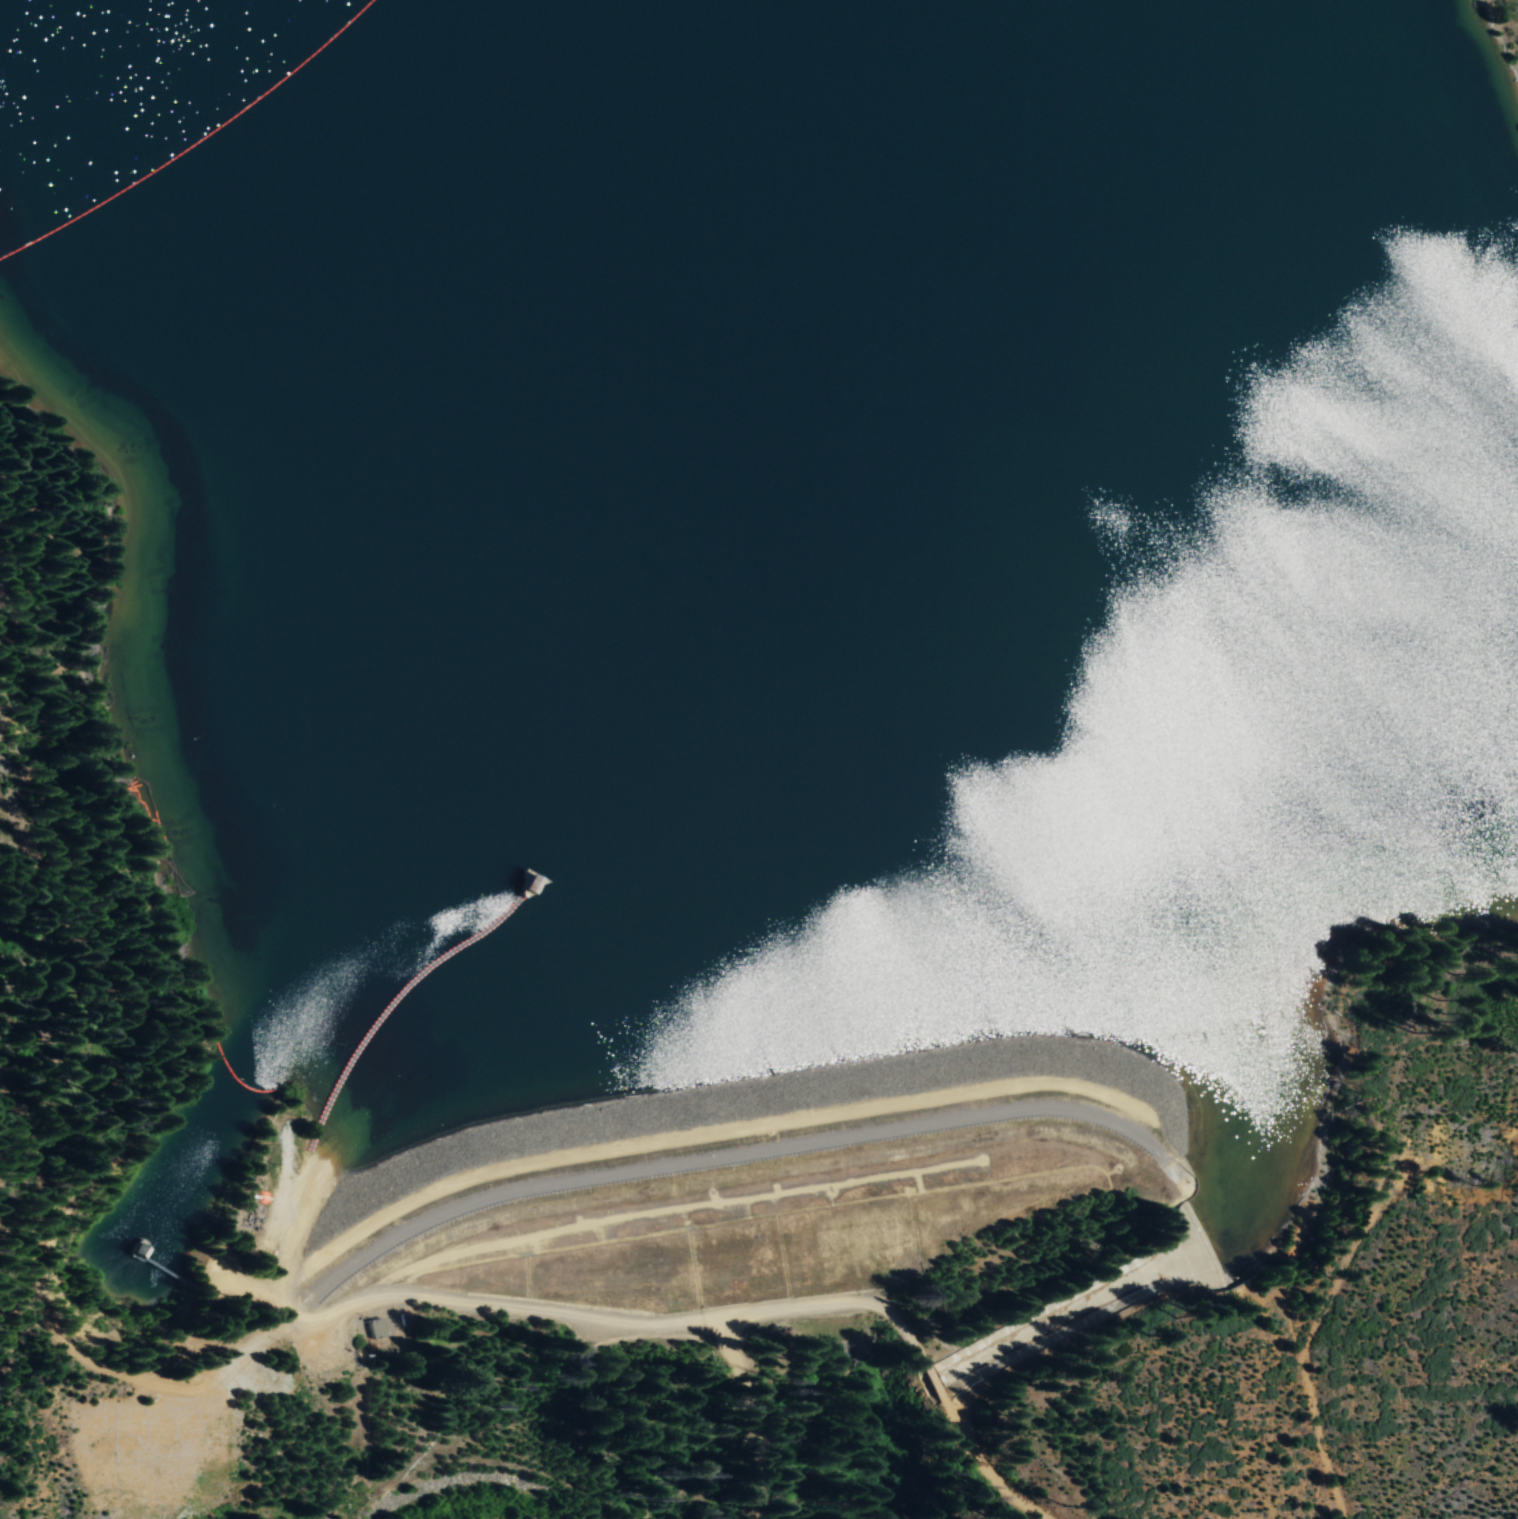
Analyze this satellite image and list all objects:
dam: (755, 1132)
road: (721, 1157)
road: (450, 1300)
road: (829, 1303)
building: (377, 1327)
road: (157, 1385)
road: (929, 1386)
road: (756, 1412)
road: (973, 1465)

